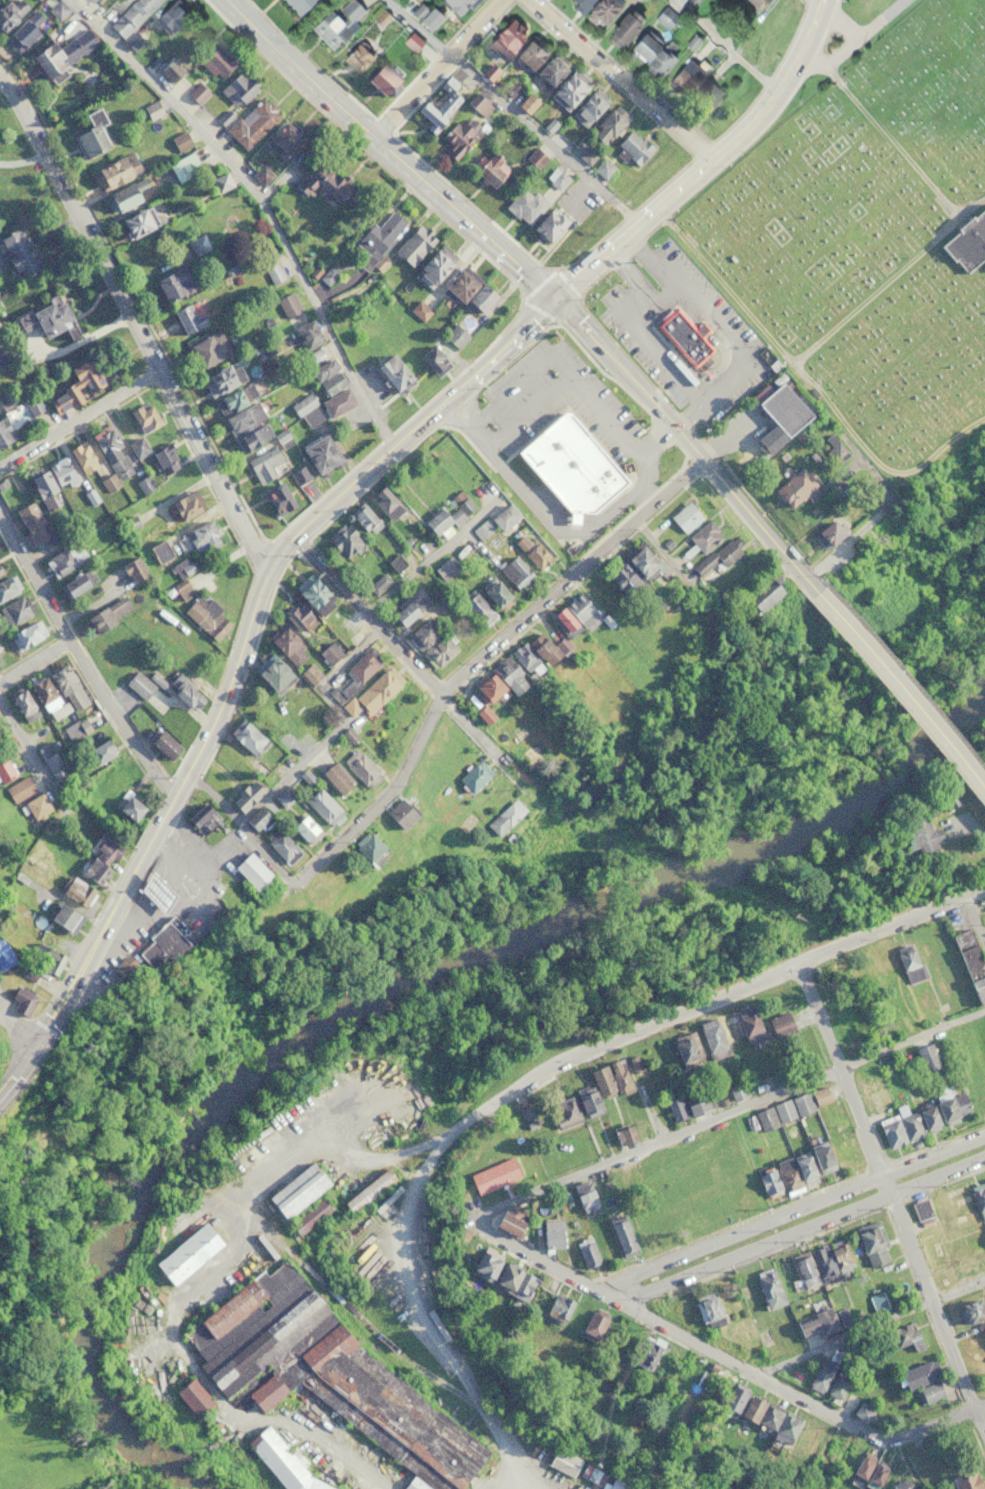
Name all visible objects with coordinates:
building: (753, 2)
building: (299, 4)
building: (456, 4)
building: (58, 8)
building: (599, 8)
building: (9, 12)
building: (426, 14)
building: (131, 15)
building: (168, 16)
road: (840, 17)
building: (340, 22)
building: (622, 26)
building: (25, 29)
road: (861, 32)
building: (504, 38)
building: (653, 50)
building: (60, 53)
building: (357, 56)
building: (526, 56)
building: (216, 62)
road: (436, 66)
building: (169, 70)
building: (550, 70)
building: (686, 74)
building: (380, 80)
road: (626, 81)
building: (567, 90)
building: (237, 91)
building: (196, 93)
building: (707, 94)
building: (477, 105)
building: (439, 107)
building: (588, 108)
building: (152, 111)
road: (514, 114)
building: (252, 122)
building: (607, 125)
building: (90, 134)
building: (456, 139)
building: (284, 140)
building: (179, 141)
road: (892, 141)
building: (632, 148)
road: (391, 152)
building: (534, 158)
building: (183, 167)
road: (712, 167)
building: (489, 169)
building: (113, 171)
building: (262, 173)
building: (318, 181)
building: (120, 199)
road: (261, 205)
building: (525, 205)
building: (133, 224)
building: (547, 225)
park: (866, 226)
building: (380, 233)
building: (967, 242)
building: (412, 246)
building: (17, 253)
building: (271, 269)
building: (431, 269)
building: (327, 275)
building: (172, 284)
road: (875, 289)
building: (468, 292)
traffic signals: (556, 297)
road: (653, 298)
building: (287, 304)
building: (187, 317)
building: (48, 318)
road: (133, 322)
parking lot: (730, 331)
building: (306, 334)
building: (455, 336)
building: (682, 336)
building: (207, 349)
building: (432, 360)
building: (322, 371)
building: (391, 373)
road: (711, 376)
building: (221, 378)
road: (526, 383)
road: (570, 383)
road: (810, 384)
building: (75, 385)
building: (502, 397)
building: (232, 399)
building: (336, 403)
building: (305, 408)
parking lot: (558, 409)
road: (692, 411)
building: (778, 416)
building: (141, 417)
road: (426, 418)
road: (79, 419)
road: (753, 421)
building: (247, 428)
building: (462, 431)
building: (4, 432)
building: (136, 447)
road: (687, 448)
building: (832, 448)
building: (639, 451)
building: (110, 452)
building: (318, 454)
building: (80, 457)
building: (163, 460)
building: (265, 465)
building: (61, 473)
building: (573, 477)
building: (793, 488)
building: (41, 490)
building: (870, 492)
building: (276, 499)
building: (383, 503)
building: (463, 506)
building: (180, 508)
building: (683, 517)
building: (362, 518)
building: (436, 522)
road: (871, 522)
building: (31, 523)
building: (826, 535)
building: (197, 537)
building: (702, 537)
building: (344, 541)
building: (555, 541)
building: (159, 551)
building: (531, 552)
road: (436, 554)
building: (711, 561)
building: (58, 563)
building: (396, 563)
building: (640, 563)
building: (180, 568)
building: (132, 569)
building: (445, 569)
building: (514, 571)
building: (0, 574)
road: (31, 578)
building: (618, 580)
building: (378, 583)
building: (71, 586)
building: (7, 587)
building: (182, 590)
building: (491, 593)
building: (313, 595)
building: (758, 595)
building: (408, 608)
building: (474, 609)
building: (13, 612)
building: (106, 614)
building: (573, 616)
building: (206, 617)
building: (297, 619)
building: (420, 634)
building: (26, 635)
building: (286, 647)
building: (437, 650)
building: (328, 654)
building: (531, 654)
road: (407, 658)
road: (34, 661)
road: (483, 662)
building: (359, 667)
building: (270, 674)
building: (307, 674)
building: (495, 682)
building: (139, 685)
building: (67, 688)
building: (183, 692)
building: (371, 693)
building: (41, 694)
road: (901, 696)
building: (22, 705)
building: (59, 710)
road: (121, 719)
road: (333, 727)
building: (76, 729)
building: (247, 739)
building: (161, 745)
building: (98, 750)
road: (30, 759)
building: (358, 768)
building: (5, 770)
building: (471, 777)
building: (301, 779)
building: (331, 780)
building: (20, 789)
road: (179, 792)
building: (243, 797)
building: (281, 797)
building: (36, 807)
building: (128, 807)
building: (319, 808)
building: (397, 815)
building: (503, 818)
building: (254, 819)
building: (201, 820)
road: (241, 829)
building: (300, 831)
building: (922, 837)
building: (277, 848)
building: (367, 851)
building: (100, 856)
building: (246, 873)
building: (75, 891)
building: (153, 893)
gas station: (153, 893)
building: (309, 897)
road: (979, 906)
building: (63, 918)
building: (158, 945)
building: (4, 956)
building: (46, 961)
building: (971, 964)
building: (901, 966)
building: (120, 969)
building: (840, 984)
river: (386, 986)
road: (710, 998)
road: (1, 1012)
building: (779, 1025)
road: (17, 1026)
building: (749, 1026)
building: (712, 1039)
building: (686, 1048)
building: (926, 1058)
road: (17, 1062)
building: (633, 1064)
building: (609, 1080)
building: (869, 1086)
building: (736, 1091)
building: (587, 1103)
building: (951, 1106)
building: (683, 1107)
building: (792, 1107)
building: (563, 1114)
road: (724, 1115)
building: (926, 1117)
building: (899, 1128)
building: (622, 1135)
building: (256, 1143)
building: (839, 1147)
building: (820, 1157)
building: (794, 1172)
building: (492, 1175)
building: (687, 1182)
building: (768, 1182)
building: (296, 1188)
building: (367, 1189)
road: (895, 1193)
building: (583, 1197)
building: (979, 1199)
road: (791, 1209)
building: (920, 1209)
building: (309, 1214)
building: (505, 1223)
road: (804, 1230)
building: (550, 1233)
building: (621, 1235)
building: (870, 1245)
building: (185, 1252)
building: (585, 1252)
building: (838, 1254)
building: (967, 1263)
building: (481, 1264)
building: (822, 1264)
building: (803, 1270)
building: (511, 1279)
building: (767, 1288)
road: (193, 1293)
building: (877, 1302)
building: (555, 1308)
building: (706, 1308)
building: (680, 1310)
building: (970, 1311)
road: (431, 1319)
building: (816, 1324)
building: (591, 1325)
road: (864, 1325)
road: (673, 1333)
building: (899, 1336)
building: (646, 1351)
building: (324, 1374)
building: (819, 1375)
building: (921, 1382)
building: (835, 1387)
building: (190, 1395)
building: (732, 1398)
road: (981, 1409)
building: (861, 1412)
building: (777, 1423)
road: (929, 1428)
building: (563, 1460)
building: (280, 1462)
building: (867, 1469)
road: (508, 1475)
building: (963, 1481)
building: (618, 1484)
building: (896, 1485)

